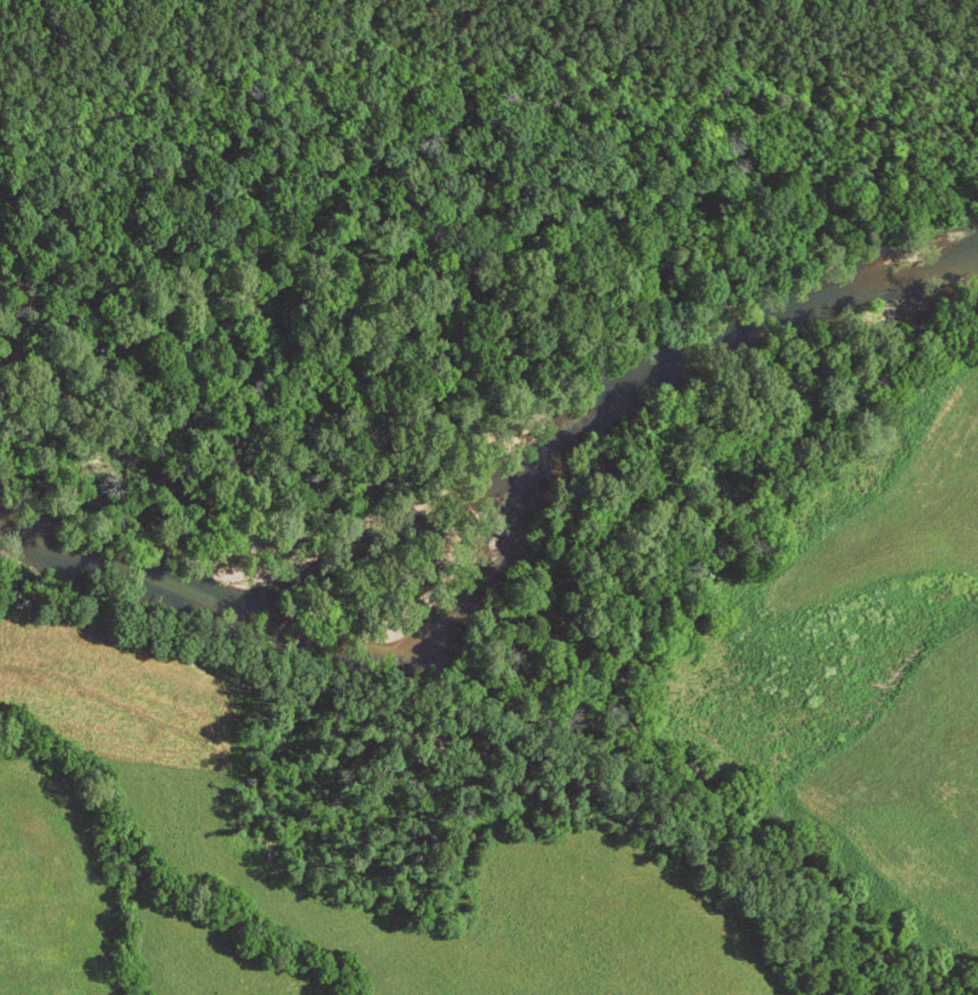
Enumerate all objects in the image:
river: (408, 533)
river: (509, 563)

